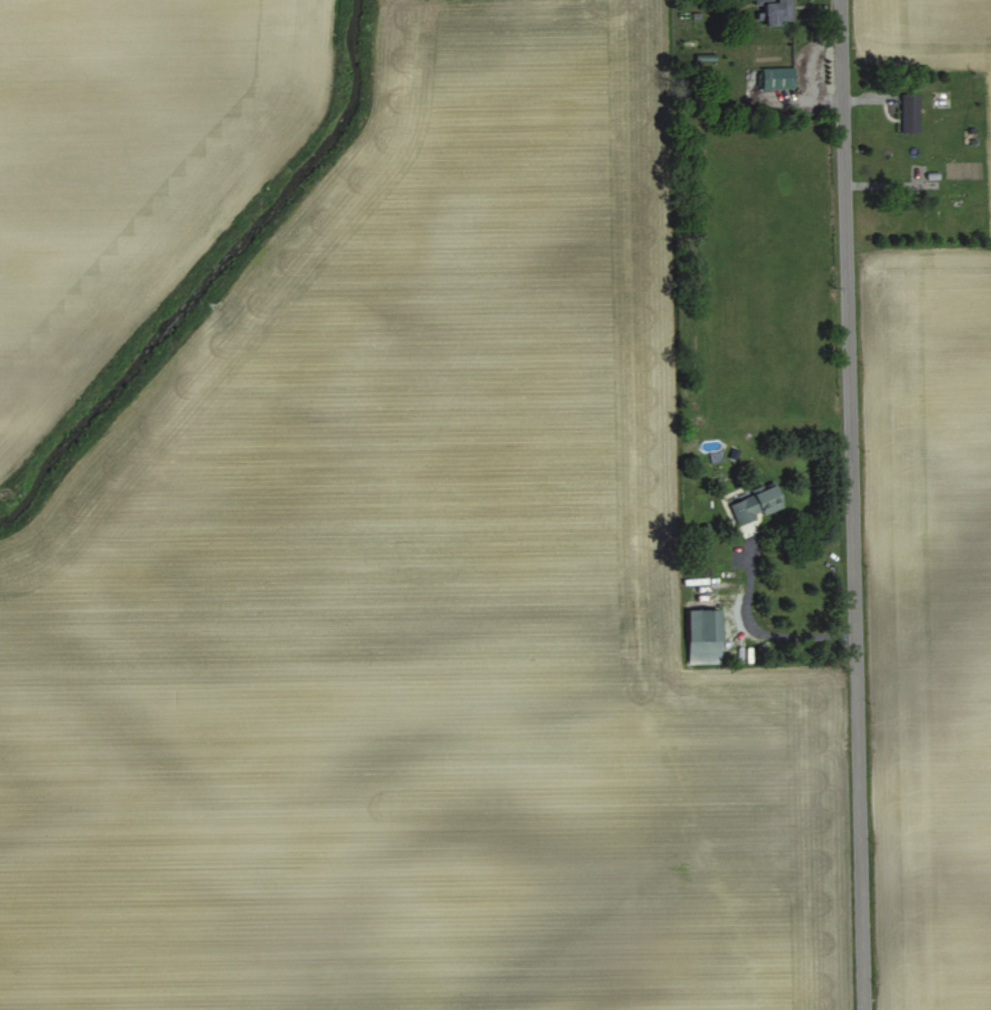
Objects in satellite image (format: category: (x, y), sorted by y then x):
building: (786, 12)
building: (783, 78)
building: (914, 113)
building: (761, 503)
road: (851, 505)
building: (709, 635)

